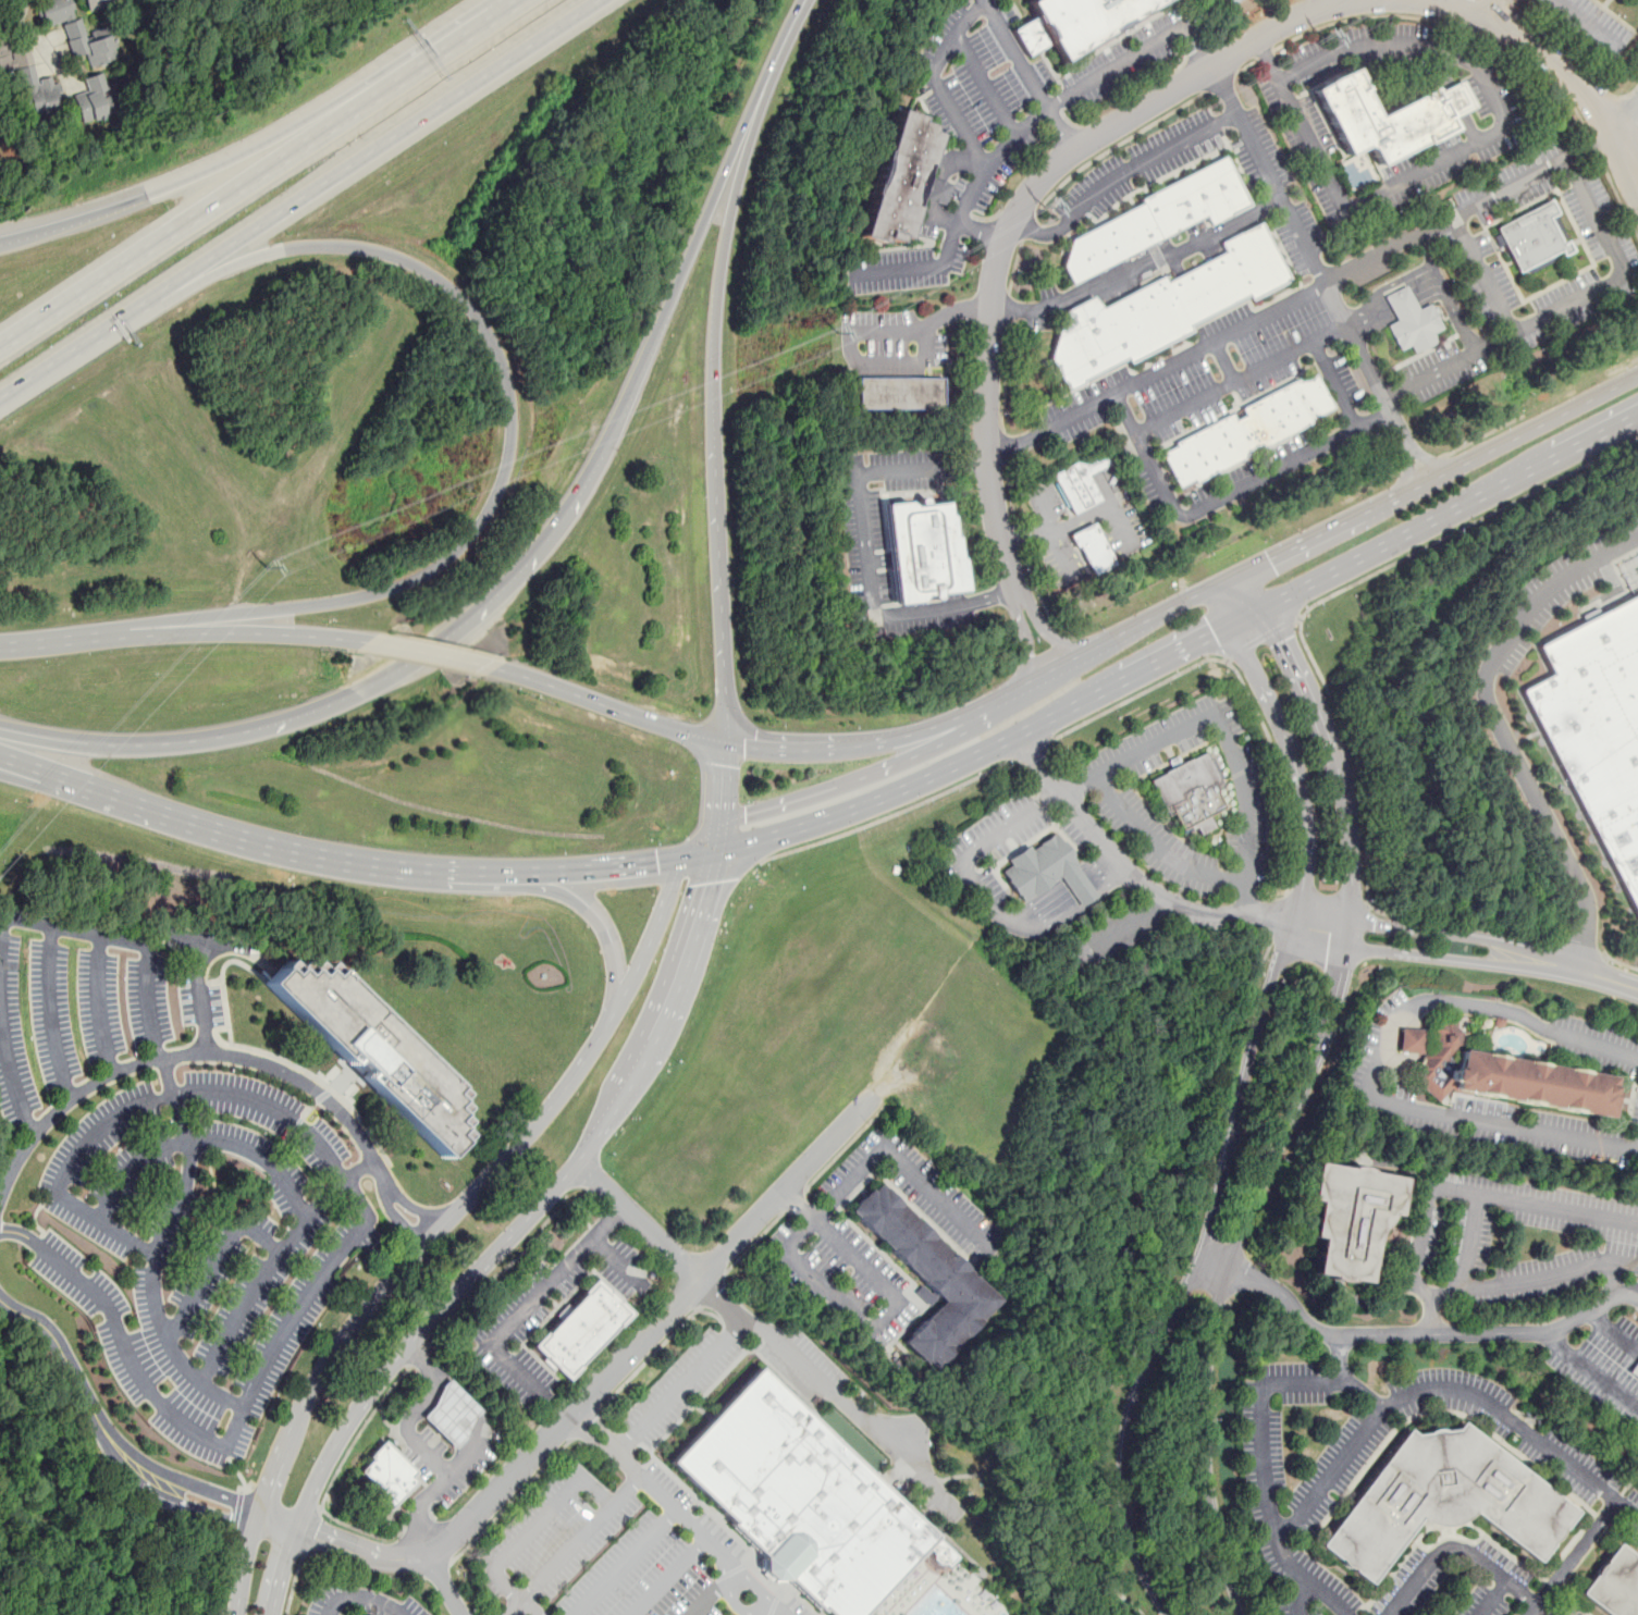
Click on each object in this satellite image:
road: (982, 0)
building: (1229, 1)
building: (98, 3)
road: (1439, 3)
road: (1464, 3)
road: (976, 7)
road: (1488, 8)
road: (14, 13)
road: (1356, 17)
building: (1084, 20)
road: (1588, 22)
road: (1460, 24)
building: (77, 33)
road: (779, 52)
road: (1265, 53)
road: (439, 54)
road: (1547, 57)
road: (1247, 64)
road: (1538, 72)
road: (1444, 77)
road: (1220, 81)
building: (29, 84)
road: (984, 85)
road: (1623, 96)
building: (90, 99)
building: (1457, 100)
road: (1625, 116)
building: (1381, 121)
parking lot: (999, 123)
road: (1015, 134)
road: (1592, 139)
road: (1625, 141)
road: (377, 146)
road: (1113, 146)
road: (1462, 149)
road: (251, 150)
parking lot: (1256, 150)
parking lot: (1141, 164)
parking lot: (1512, 169)
road: (1621, 171)
road: (943, 174)
road: (1119, 175)
building: (900, 178)
road: (1272, 181)
building: (936, 190)
road: (1615, 195)
road: (734, 196)
road: (1022, 200)
parking lot: (1516, 200)
road: (710, 208)
building: (1158, 218)
road: (74, 219)
parking lot: (1582, 223)
road: (178, 226)
road: (1026, 226)
building: (1529, 235)
parking lot: (1302, 237)
road: (1014, 266)
road: (920, 267)
road: (1140, 267)
road: (220, 269)
parking lot: (1498, 269)
road: (1483, 274)
parking lot: (1469, 281)
parking lot: (1629, 285)
parking lot: (1564, 288)
road: (1446, 292)
road: (1393, 301)
building: (1400, 301)
road: (1563, 306)
road: (1008, 307)
building: (1165, 308)
building: (1414, 328)
road: (857, 332)
parking lot: (892, 337)
power tower: (834, 343)
road: (78, 345)
parking lot: (1427, 358)
parking lot: (1345, 374)
parking lot: (1196, 375)
road: (1005, 377)
road: (1241, 378)
building: (900, 392)
road: (1116, 393)
road: (1501, 422)
road: (1532, 428)
building: (1247, 430)
road: (1002, 445)
road: (1549, 459)
road: (1426, 463)
parking lot: (1246, 469)
road: (1407, 471)
parking lot: (1146, 483)
building: (1072, 488)
road: (1010, 492)
road: (1224, 496)
road: (492, 497)
road: (716, 514)
road: (1333, 527)
road: (1058, 529)
road: (1019, 535)
parking lot: (888, 544)
building: (924, 547)
building: (1094, 548)
road: (1097, 551)
road: (1248, 551)
road: (1360, 556)
road: (1403, 556)
traffic signals: (1270, 558)
power tower: (279, 564)
road: (512, 580)
road: (1249, 591)
road: (1040, 595)
road: (1162, 612)
road: (1045, 630)
road: (253, 632)
traffic signals: (1215, 633)
road: (1260, 636)
road: (1026, 637)
road: (64, 639)
traffic signals: (1280, 643)
road: (429, 652)
road: (1163, 659)
road: (1022, 683)
road: (1245, 691)
road: (602, 704)
road: (1498, 726)
road: (924, 729)
building: (1591, 729)
road: (1220, 730)
road: (121, 743)
traffic signals: (744, 747)
road: (1289, 748)
road: (806, 750)
road: (1030, 751)
road: (1333, 757)
road: (1351, 761)
traffic signals: (722, 764)
road: (28, 765)
road: (28, 770)
road: (843, 782)
road: (721, 784)
parking lot: (1107, 789)
road: (896, 791)
building: (1189, 792)
road: (907, 806)
traffic signals: (744, 814)
road: (717, 838)
road: (697, 839)
road: (284, 845)
road: (984, 845)
road: (1158, 846)
road: (698, 853)
traffic signals: (656, 861)
road: (601, 866)
building: (1046, 871)
road: (1130, 872)
traffic signals: (709, 884)
road: (1060, 900)
road: (1393, 914)
road: (1280, 915)
road: (1321, 923)
road: (598, 925)
road: (1319, 934)
road: (1345, 934)
road: (1442, 934)
road: (122, 939)
road: (650, 939)
road: (1577, 947)
road: (1439, 956)
road: (1621, 963)
road: (1554, 965)
road: (1605, 978)
road: (200, 995)
road: (94, 1003)
road: (48, 1012)
building: (371, 1049)
road: (187, 1052)
road: (1375, 1061)
building: (1508, 1077)
road: (11, 1082)
road: (843, 1148)
road: (900, 1161)
road: (285, 1182)
road: (338, 1185)
road: (793, 1200)
road: (410, 1205)
road: (396, 1216)
road: (639, 1218)
building: (1347, 1219)
road: (17, 1232)
road: (504, 1240)
road: (1471, 1242)
road: (753, 1243)
road: (1416, 1244)
road: (341, 1256)
road: (617, 1256)
road: (213, 1259)
road: (506, 1266)
road: (1187, 1272)
road: (1228, 1272)
building: (926, 1277)
road: (1609, 1279)
road: (1069, 1285)
road: (380, 1292)
road: (709, 1294)
road: (533, 1297)
road: (722, 1297)
road: (880, 1315)
road: (1430, 1315)
building: (580, 1329)
road: (1612, 1332)
road: (1411, 1334)
road: (661, 1344)
road: (778, 1346)
road: (417, 1355)
road: (1342, 1359)
road: (65, 1360)
road: (1590, 1371)
building: (1637, 1372)
parking garage: (1637, 1372)
road: (134, 1373)
road: (602, 1379)
road: (1332, 1383)
road: (415, 1410)
building: (452, 1413)
road: (587, 1421)
road: (601, 1426)
road: (590, 1438)
road: (235, 1470)
building: (386, 1474)
road: (1331, 1475)
road: (962, 1476)
road: (331, 1482)
road: (200, 1487)
road: (245, 1488)
road: (430, 1491)
parking lot: (686, 1496)
building: (1443, 1499)
building: (801, 1500)
road: (512, 1501)
road: (188, 1505)
road: (1627, 1509)
road: (675, 1511)
road: (544, 1512)
road: (236, 1513)
road: (312, 1533)
road: (1456, 1549)
road: (1573, 1557)
road: (332, 1558)
road: (559, 1561)
road: (624, 1563)
road: (436, 1570)
road: (226, 1574)
road: (669, 1577)
building: (1614, 1585)
road: (446, 1586)
road: (754, 1586)
road: (710, 1593)
road: (364, 1594)
road: (1303, 1598)
road: (1497, 1599)
road: (735, 1605)
road: (1544, 1610)
road: (767, 1612)
road: (774, 1612)

